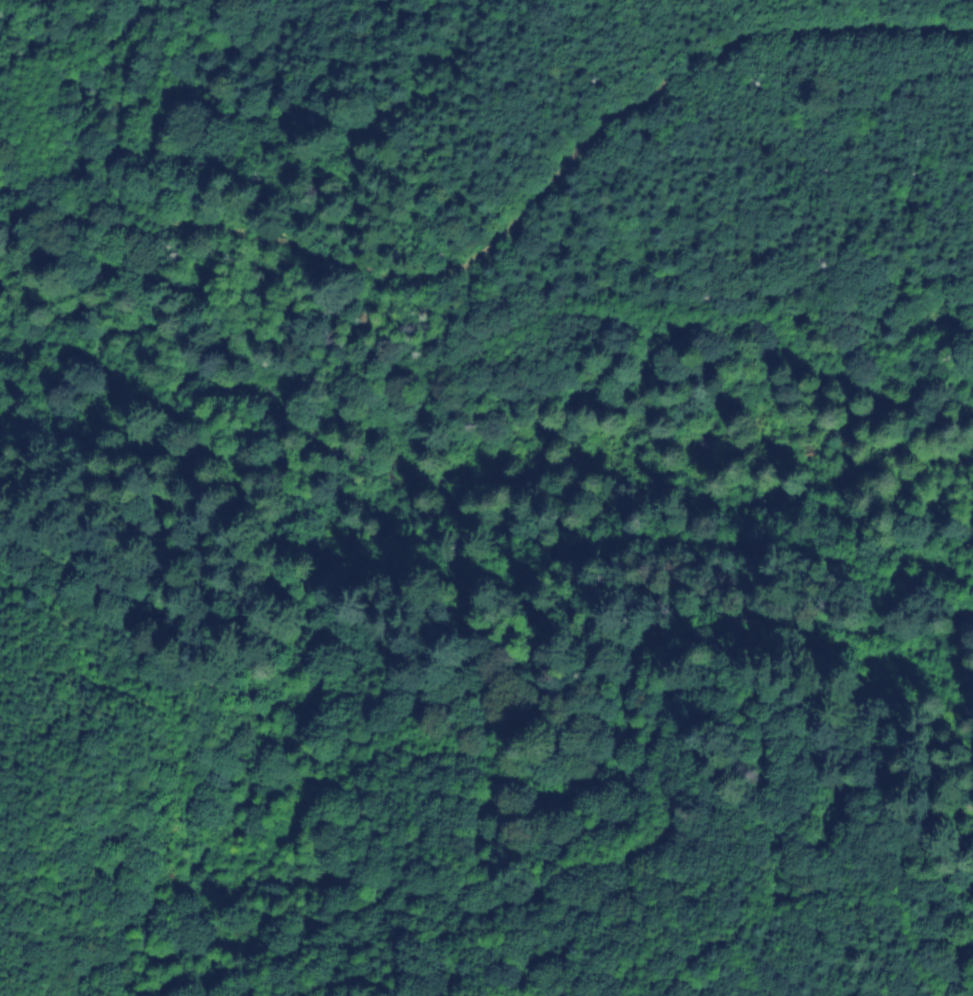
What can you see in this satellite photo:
road: (578, 147)

